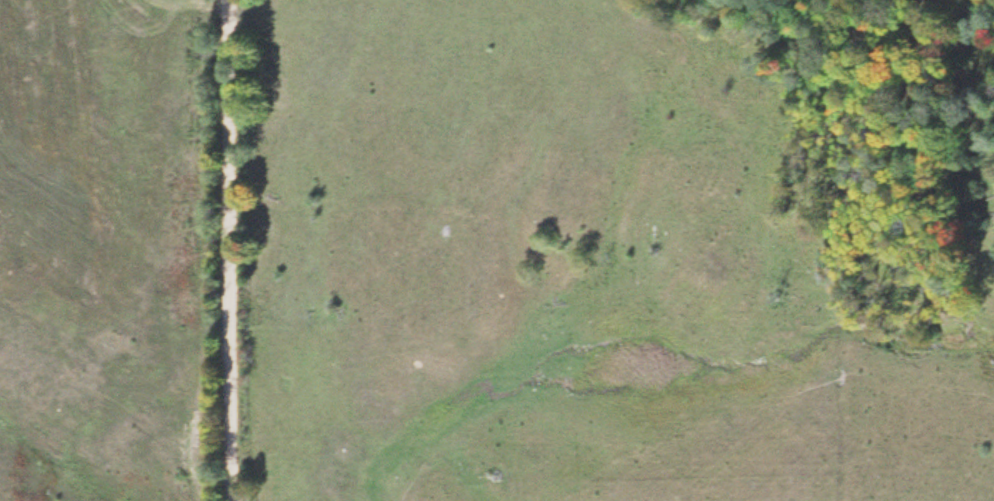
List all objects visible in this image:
road: (232, 250)

